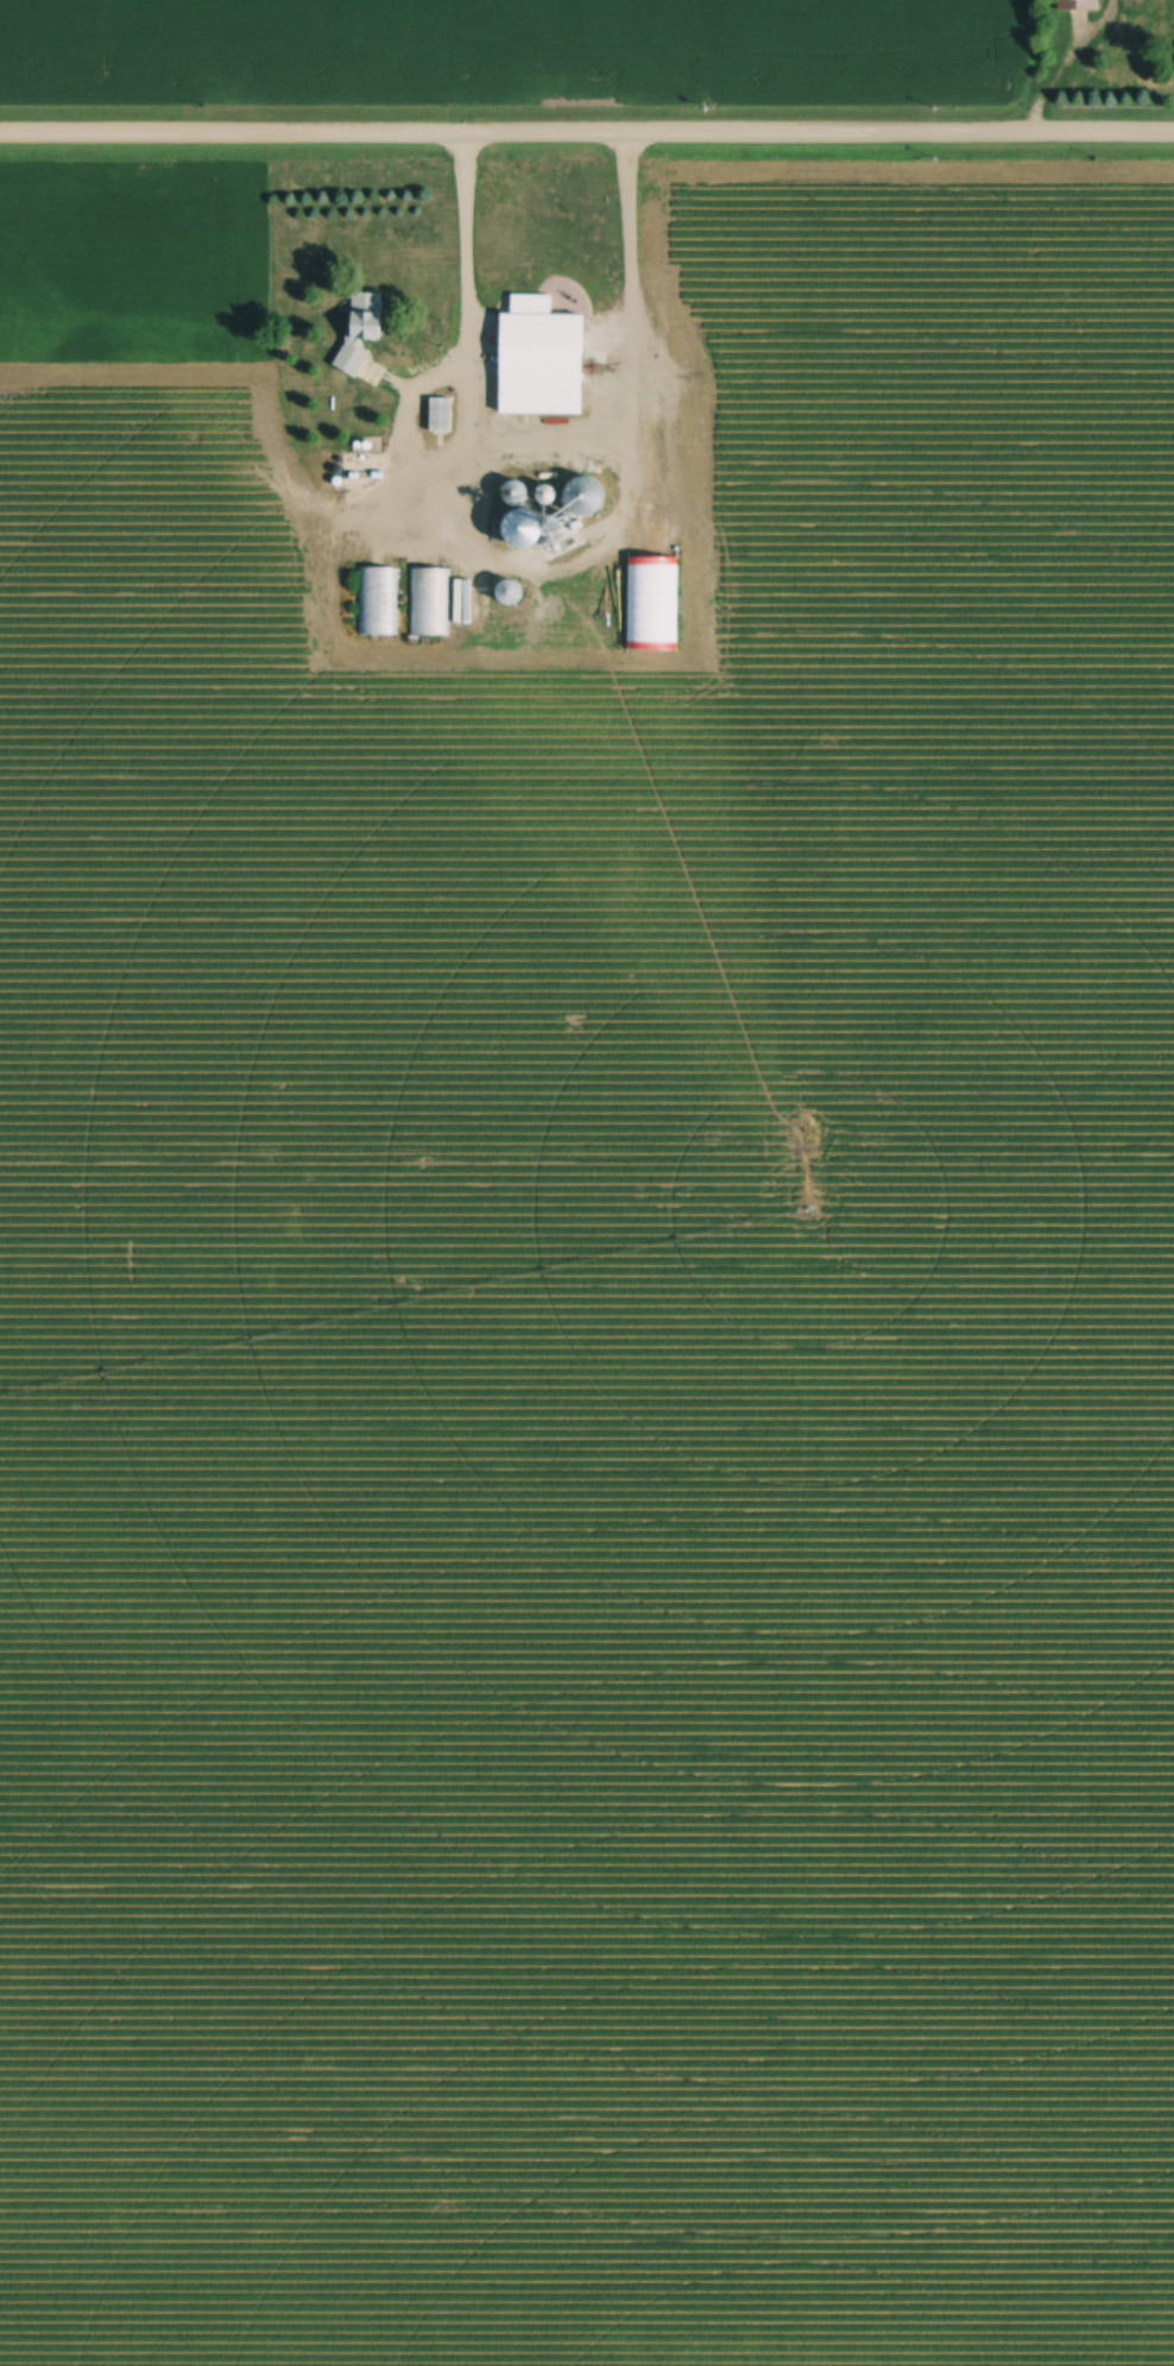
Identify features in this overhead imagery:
road: (586, 137)
road: (460, 204)
road: (465, 310)
building: (366, 325)
building: (545, 359)
road: (623, 401)
building: (443, 415)
building: (378, 602)
building: (430, 602)

